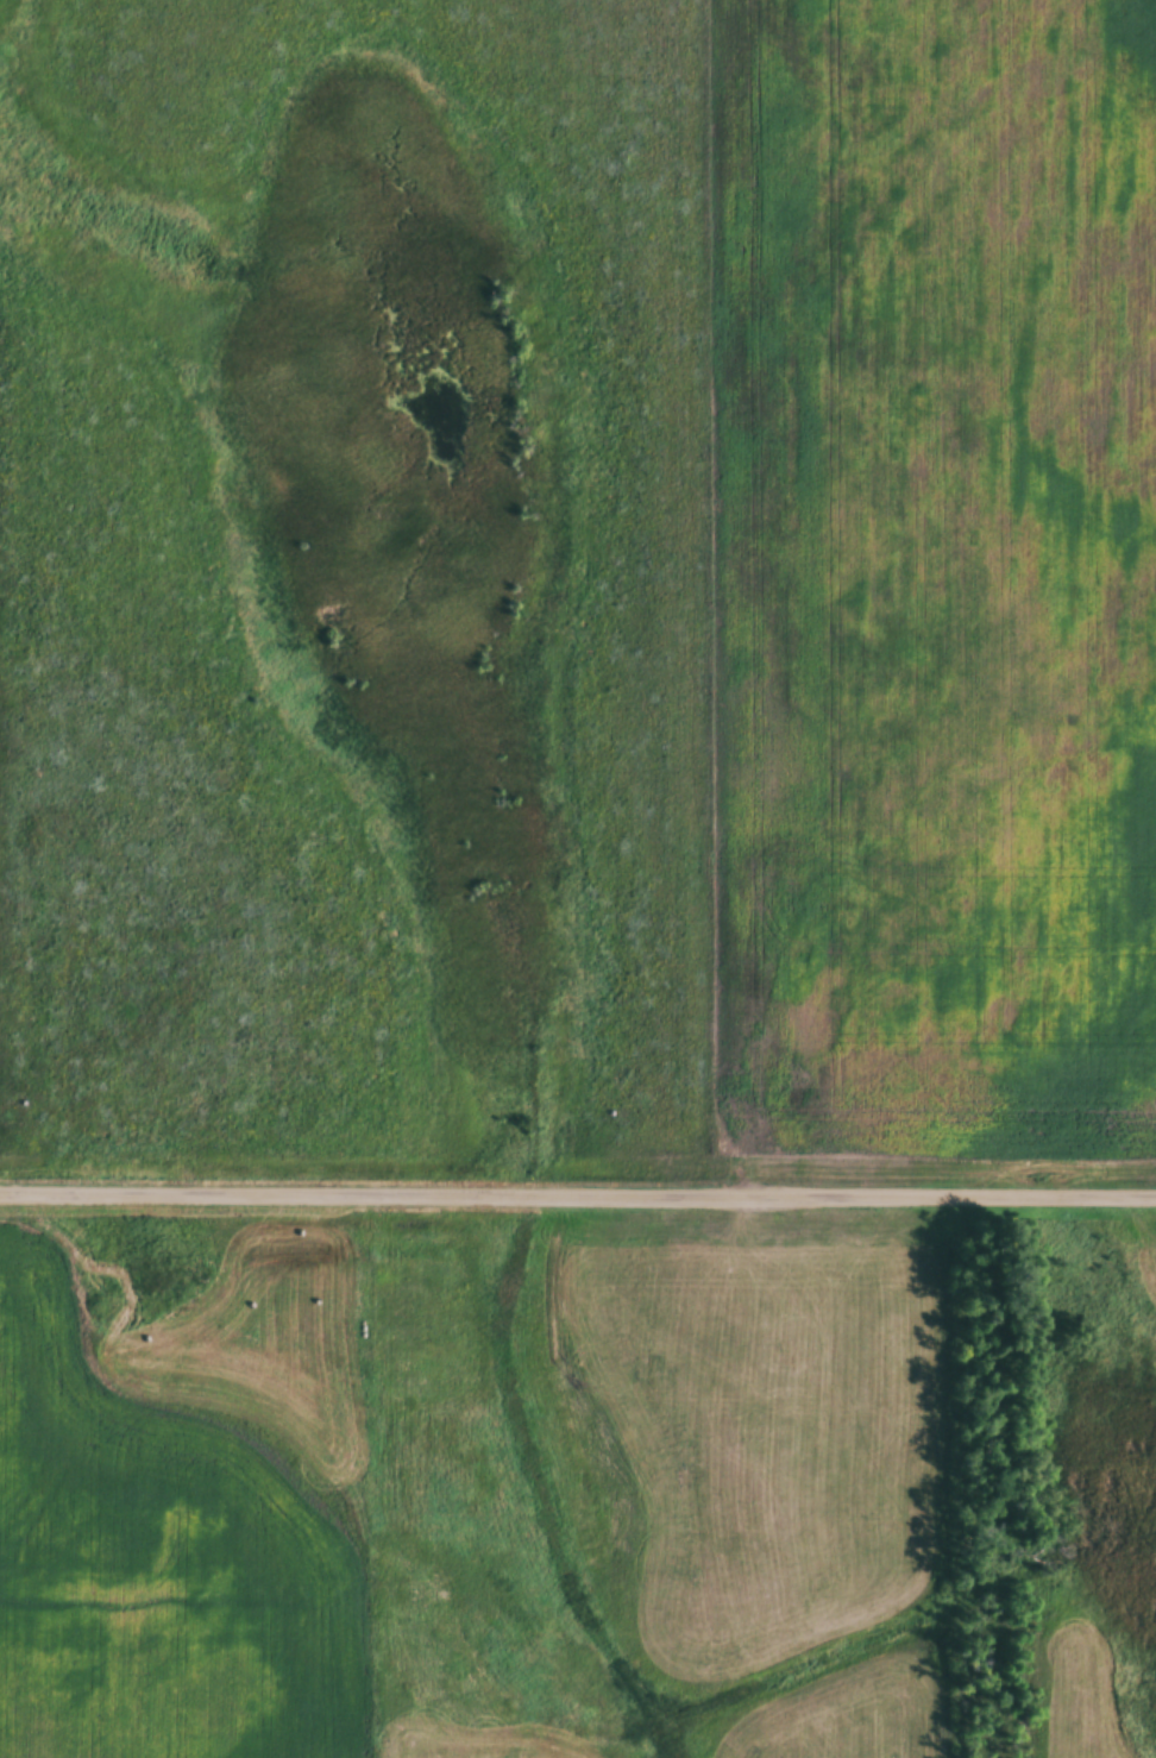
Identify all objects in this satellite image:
road: (754, 1193)
road: (176, 1194)

